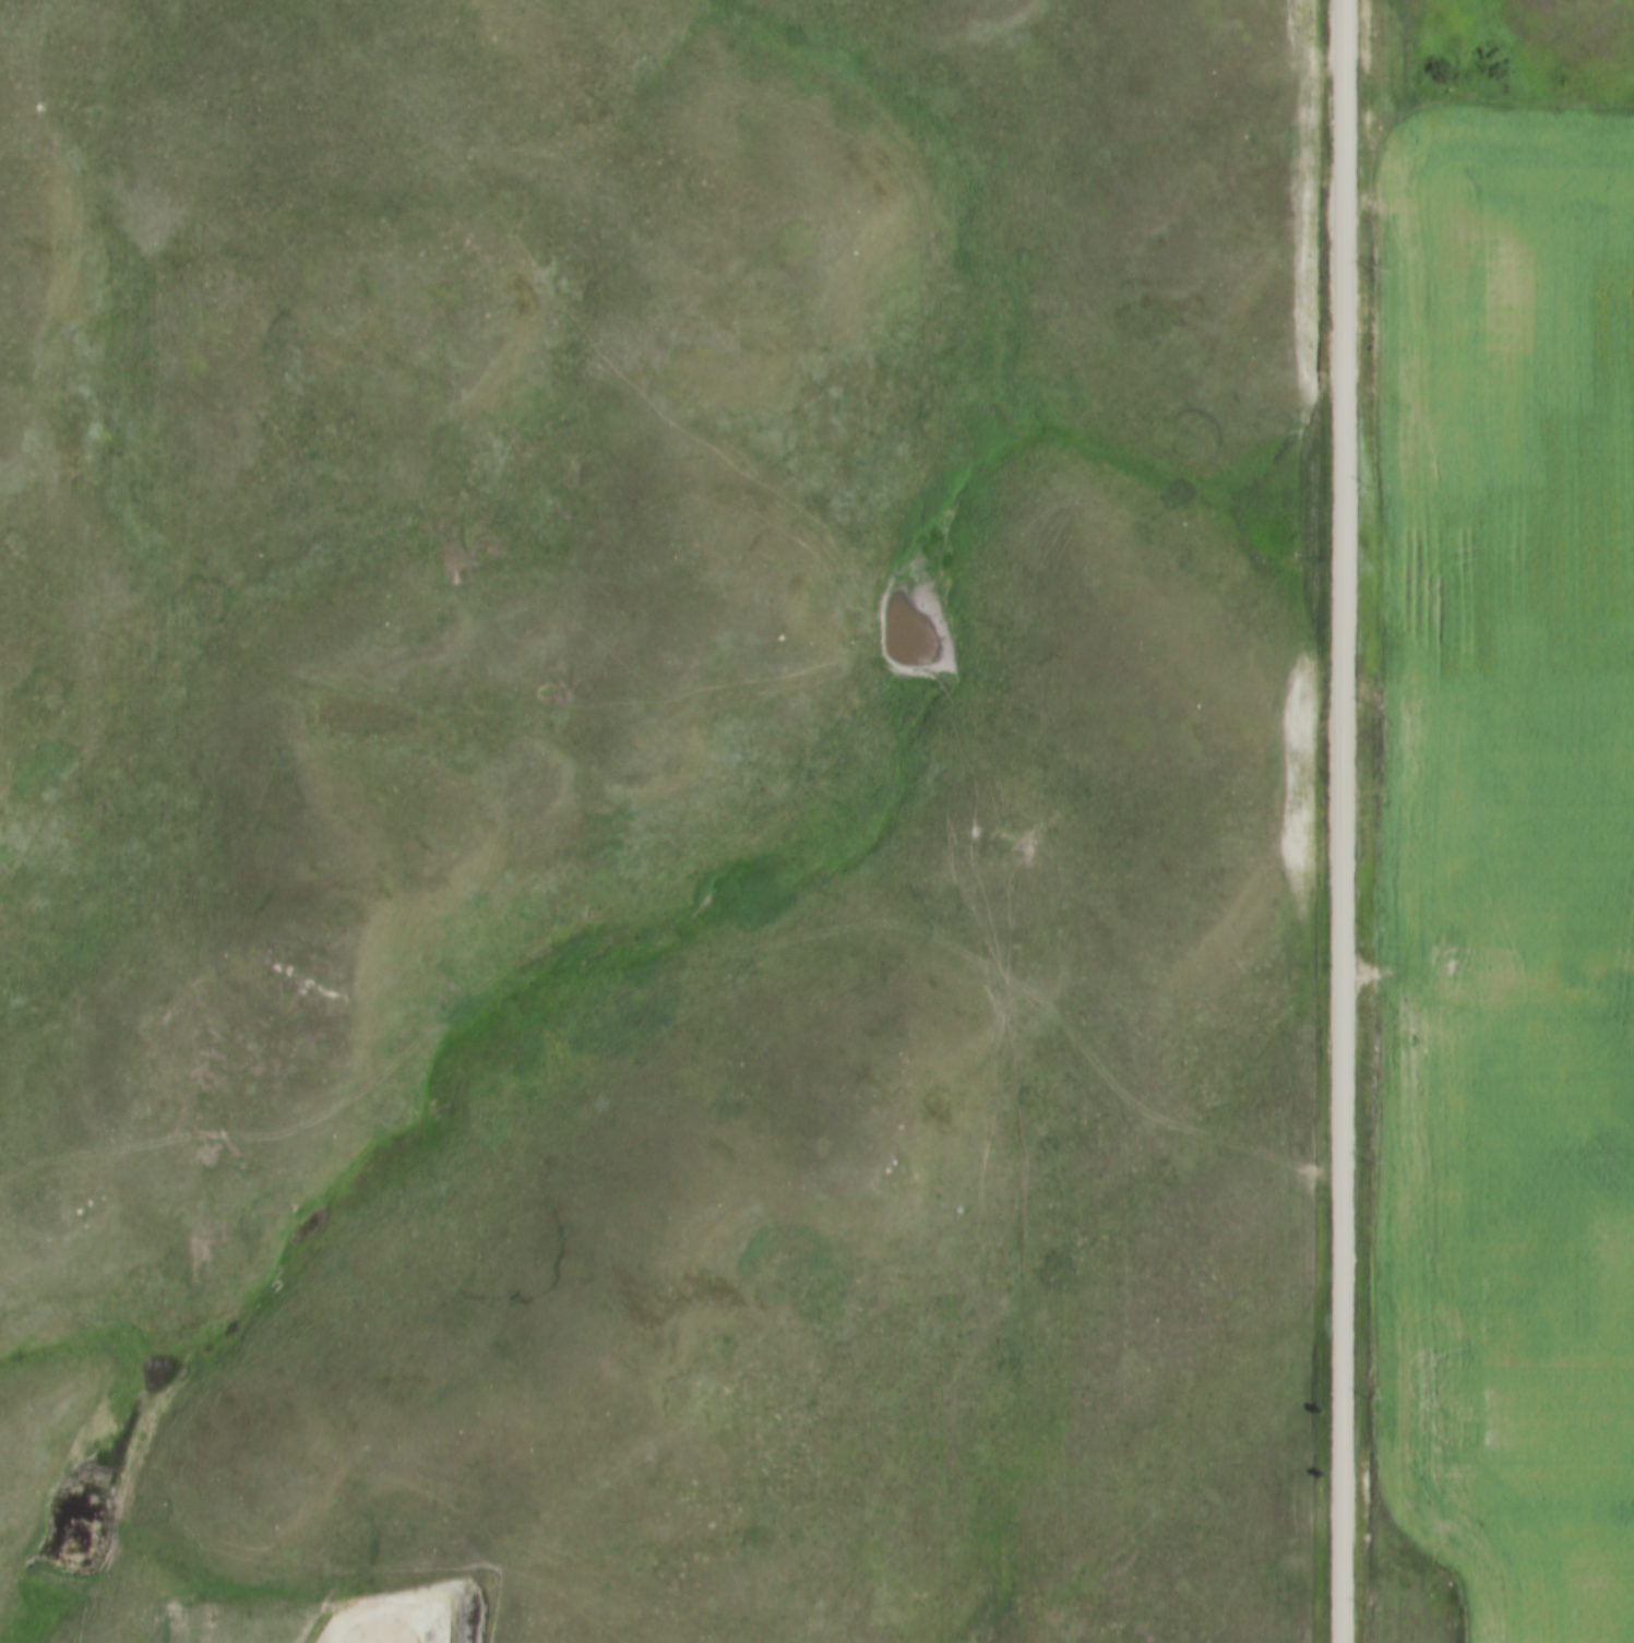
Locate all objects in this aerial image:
road: (1345, 821)

